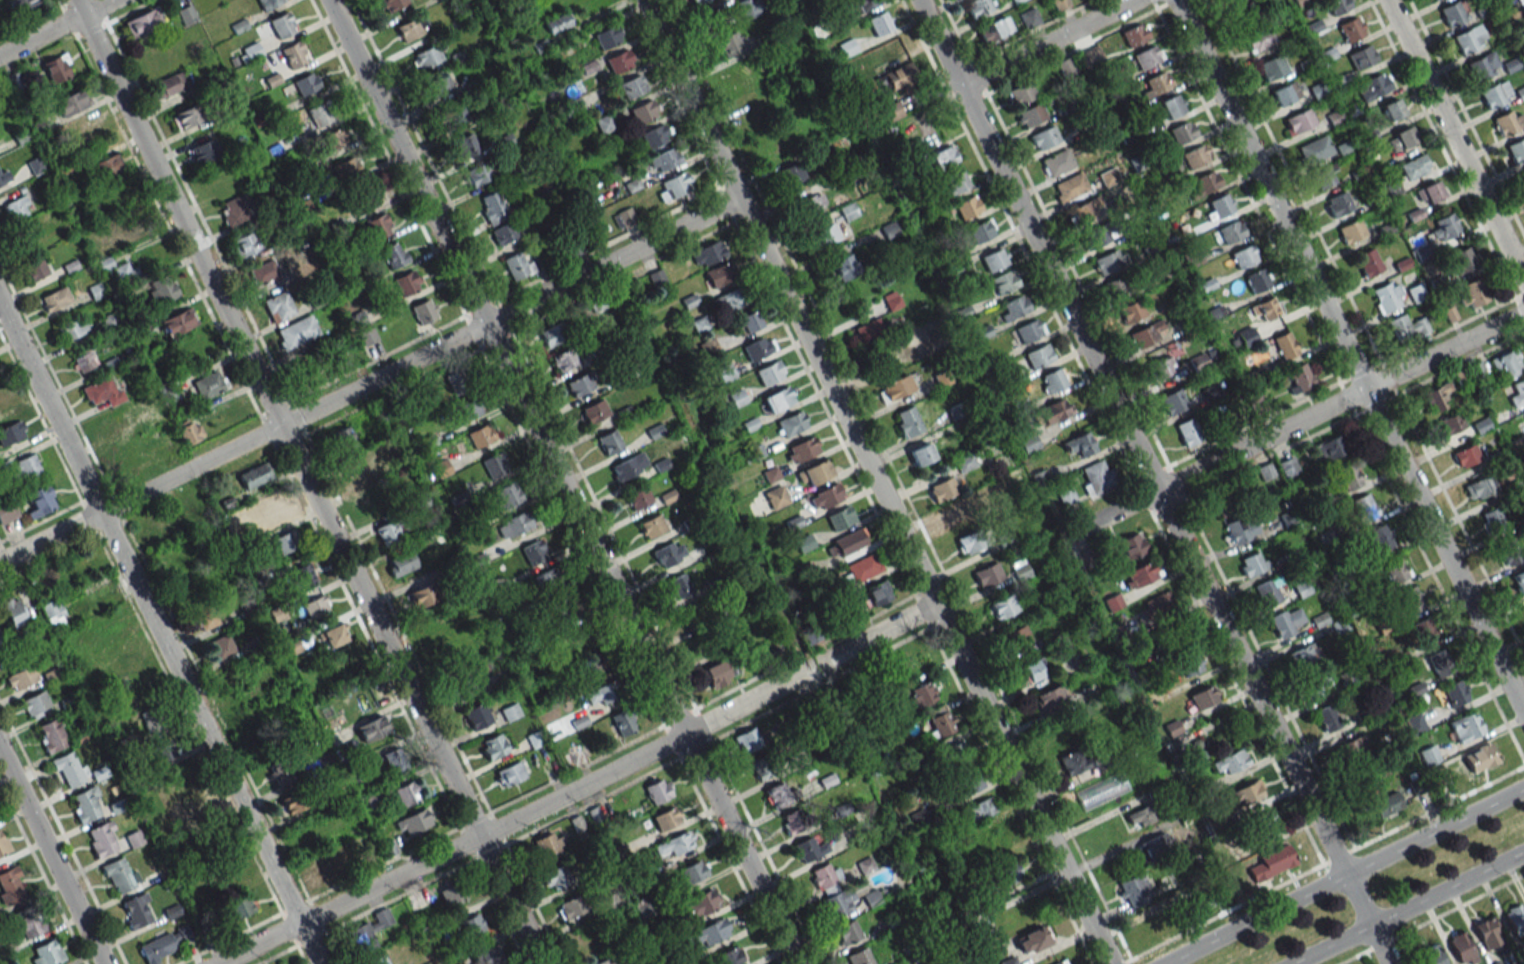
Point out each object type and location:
building: (1233, 0)
building: (1523, 0)
building: (696, 1)
building: (1298, 1)
building: (267, 3)
building: (392, 4)
building: (1060, 4)
building: (860, 5)
building: (1338, 5)
building: (17, 6)
building: (977, 7)
building: (748, 8)
building: (1246, 10)
building: (1452, 13)
building: (186, 14)
building: (1029, 17)
building: (143, 22)
building: (557, 23)
building: (879, 23)
building: (281, 24)
road: (56, 27)
building: (408, 29)
building: (1351, 29)
building: (994, 30)
building: (1134, 34)
building: (607, 36)
building: (1259, 38)
building: (1469, 38)
building: (729, 43)
road: (1046, 43)
building: (847, 47)
building: (293, 54)
building: (1146, 56)
building: (425, 57)
building: (1361, 57)
building: (619, 61)
building: (1482, 65)
building: (1066, 67)
building: (1272, 67)
building: (56, 68)
building: (895, 77)
building: (439, 83)
building: (170, 84)
building: (305, 84)
building: (1156, 84)
building: (631, 86)
building: (1372, 86)
building: (1020, 93)
building: (1285, 93)
building: (1495, 94)
building: (71, 102)
building: (1171, 106)
building: (1392, 109)
building: (643, 111)
building: (891, 111)
building: (318, 114)
building: (455, 114)
building: (1030, 115)
building: (185, 116)
building: (1299, 121)
building: (1508, 122)
building: (604, 123)
building: (87, 130)
building: (1183, 131)
building: (655, 135)
building: (1044, 137)
building: (1401, 138)
road: (1455, 140)
building: (330, 141)
building: (465, 145)
building: (1314, 149)
building: (1516, 150)
building: (203, 151)
building: (1195, 156)
building: (943, 157)
building: (663, 160)
building: (1056, 162)
building: (107, 166)
building: (1414, 167)
building: (346, 170)
building: (478, 173)
building: (792, 173)
building: (4, 176)
building: (1108, 176)
building: (1323, 176)
building: (1523, 178)
building: (955, 182)
building: (1205, 183)
building: (672, 187)
building: (1069, 187)
building: (1429, 193)
building: (363, 199)
building: (813, 204)
building: (1337, 204)
building: (1219, 205)
building: (16, 207)
building: (967, 207)
building: (235, 208)
building: (491, 208)
building: (1085, 211)
building: (625, 216)
building: (377, 225)
building: (1443, 227)
building: (888, 230)
building: (980, 230)
building: (1351, 230)
building: (1228, 232)
building: (106, 233)
building: (503, 233)
building: (826, 234)
building: (1097, 235)
building: (244, 245)
building: (572, 247)
building: (708, 253)
building: (1419, 253)
building: (392, 254)
building: (1243, 256)
building: (994, 259)
building: (1109, 260)
building: (1460, 260)
building: (1368, 262)
building: (516, 265)
building: (845, 265)
building: (34, 268)
building: (122, 270)
building: (260, 273)
building: (720, 274)
building: (1256, 280)
building: (1004, 282)
building: (406, 283)
building: (160, 288)
building: (1115, 288)
building: (1415, 293)
building: (1472, 294)
building: (1387, 296)
building: (55, 299)
building: (602, 299)
building: (729, 300)
building: (278, 306)
building: (1013, 307)
building: (1265, 309)
building: (423, 311)
building: (1130, 312)
building: (177, 321)
building: (748, 321)
building: (70, 328)
building: (1406, 328)
building: (869, 330)
building: (1028, 330)
building: (296, 332)
building: (366, 335)
building: (550, 335)
building: (1147, 335)
building: (1245, 336)
building: (1284, 345)
building: (758, 347)
building: (1039, 356)
road: (1350, 356)
building: (564, 359)
building: (83, 360)
building: (1507, 363)
building: (1160, 370)
building: (769, 372)
building: (1298, 377)
building: (1052, 380)
road: (370, 382)
building: (458, 382)
building: (209, 384)
building: (579, 384)
building: (894, 388)
building: (102, 391)
building: (1518, 393)
building: (1437, 396)
building: (778, 399)
building: (2, 400)
building: (1173, 401)
building: (465, 409)
building: (594, 411)
building: (1054, 411)
building: (907, 421)
road: (1296, 422)
building: (791, 423)
building: (1449, 424)
building: (189, 431)
building: (1187, 431)
building: (11, 432)
building: (480, 435)
building: (342, 439)
building: (609, 441)
building: (1027, 443)
building: (1079, 444)
building: (801, 449)
building: (1326, 450)
building: (921, 454)
building: (1466, 455)
building: (966, 462)
building: (361, 464)
building: (494, 464)
building: (628, 466)
building: (1287, 466)
building: (24, 468)
building: (441, 468)
building: (1265, 471)
building: (814, 473)
building: (254, 475)
building: (1096, 477)
building: (1347, 477)
road: (876, 481)
road: (1153, 481)
road: (307, 482)
road: (562, 482)
building: (941, 489)
building: (506, 495)
building: (826, 496)
building: (40, 501)
building: (778, 502)
building: (1219, 504)
building: (192, 505)
building: (1362, 508)
building: (7, 510)
building: (840, 517)
building: (1492, 518)
building: (514, 525)
building: (651, 526)
building: (244, 528)
building: (1240, 529)
building: (387, 533)
building: (1379, 538)
building: (850, 541)
building: (284, 542)
building: (969, 542)
building: (1132, 545)
building: (533, 552)
building: (1508, 552)
building: (668, 553)
building: (400, 563)
building: (1251, 564)
building: (862, 568)
building: (1020, 569)
building: (1394, 569)
building: (987, 574)
building: (1141, 574)
building: (301, 576)
building: (548, 580)
building: (1519, 582)
building: (678, 586)
building: (878, 592)
building: (421, 595)
building: (1407, 600)
building: (247, 606)
building: (1158, 606)
building: (1002, 607)
building: (315, 608)
building: (14, 611)
building: (689, 613)
building: (53, 614)
building: (205, 618)
building: (1287, 621)
building: (1425, 632)
road: (159, 634)
building: (333, 635)
building: (1019, 635)
building: (810, 636)
building: (79, 639)
building: (221, 646)
building: (455, 652)
building: (1305, 653)
building: (1441, 662)
building: (1190, 663)
building: (1034, 670)
building: (717, 674)
building: (20, 678)
building: (1315, 686)
building: (463, 688)
building: (1453, 693)
building: (600, 694)
building: (920, 694)
building: (1203, 697)
building: (1050, 698)
building: (35, 704)
building: (510, 712)
building: (476, 716)
building: (1326, 718)
building: (149, 719)
building: (623, 722)
building: (1414, 723)
building: (940, 724)
building: (1466, 726)
building: (370, 728)
building: (50, 735)
building: (747, 740)
building: (493, 746)
building: (1351, 748)
building: (162, 752)
building: (955, 755)
building: (395, 757)
building: (1479, 758)
building: (1230, 761)
building: (1074, 762)
building: (765, 765)
building: (68, 769)
building: (279, 770)
building: (508, 774)
building: (1370, 780)
building: (969, 782)
road: (578, 787)
building: (657, 790)
building: (407, 793)
building: (780, 793)
building: (1246, 794)
building: (369, 797)
building: (296, 801)
building: (85, 804)
building: (1387, 804)
building: (978, 810)
building: (1142, 815)
building: (918, 817)
building: (665, 819)
building: (413, 822)
building: (795, 823)
building: (1265, 825)
building: (101, 840)
building: (3, 844)
building: (673, 844)
building: (549, 845)
building: (1156, 845)
building: (809, 849)
road: (51, 858)
building: (1270, 863)
road: (1321, 864)
building: (325, 870)
building: (692, 872)
building: (1009, 872)
building: (118, 874)
road: (1343, 875)
building: (824, 876)
building: (555, 877)
building: (10, 885)
building: (1134, 890)
building: (452, 894)
building: (1201, 901)
building: (840, 902)
building: (701, 903)
building: (241, 906)
building: (570, 907)
road: (1408, 909)
building: (135, 911)
building: (1514, 918)
building: (28, 922)
building: (471, 925)
road: (244, 929)
building: (367, 932)
building: (847, 932)
building: (1487, 932)
building: (707, 934)
building: (1032, 940)
building: (165, 944)
building: (1461, 948)
building: (46, 953)
building: (487, 955)
building: (1431, 955)
building: (729, 956)
building: (859, 957)
building: (377, 960)
building: (605, 961)
building: (1008, 961)
building: (1061, 962)

